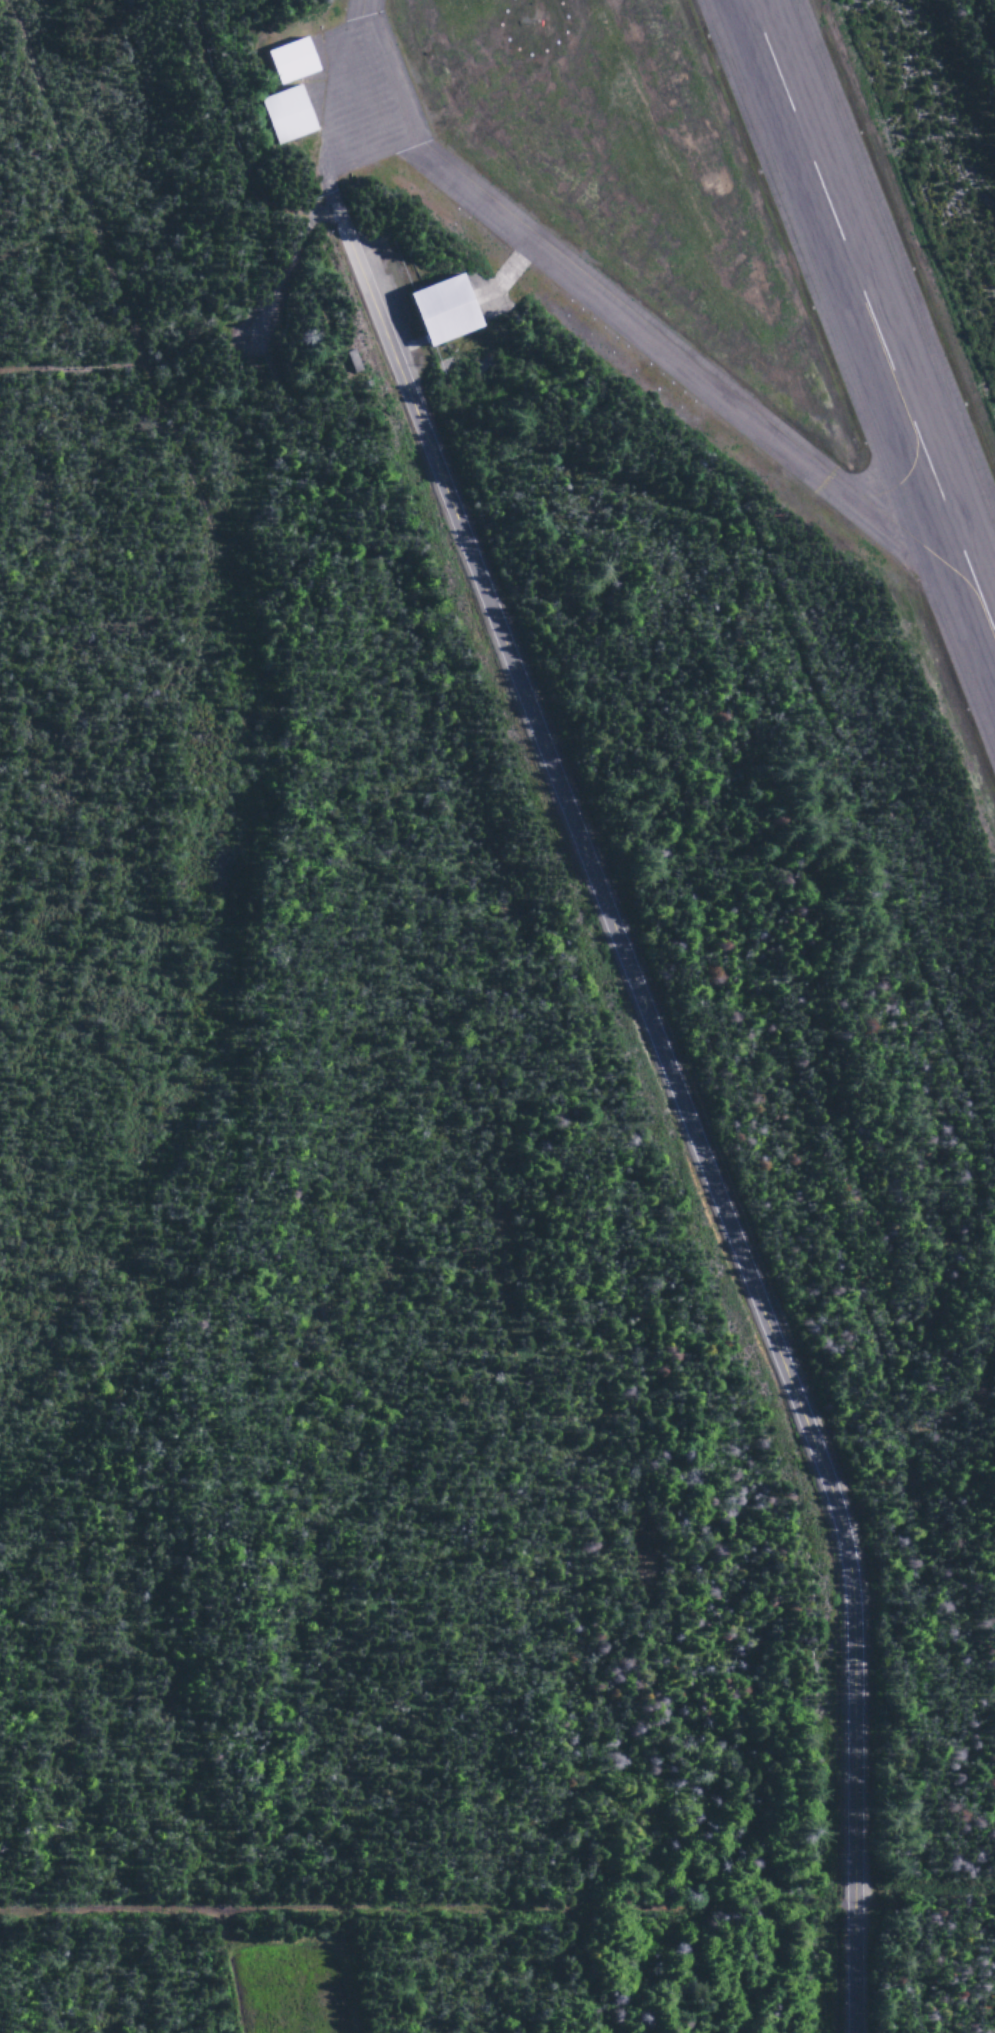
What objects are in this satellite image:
building: (286, 61)
building: (280, 115)
road: (230, 138)
parking lot: (378, 260)
building: (434, 310)
airport runway: (873, 311)
airport taxiway: (642, 338)
airport: (638, 592)
road: (674, 1096)
crop: (287, 1994)

